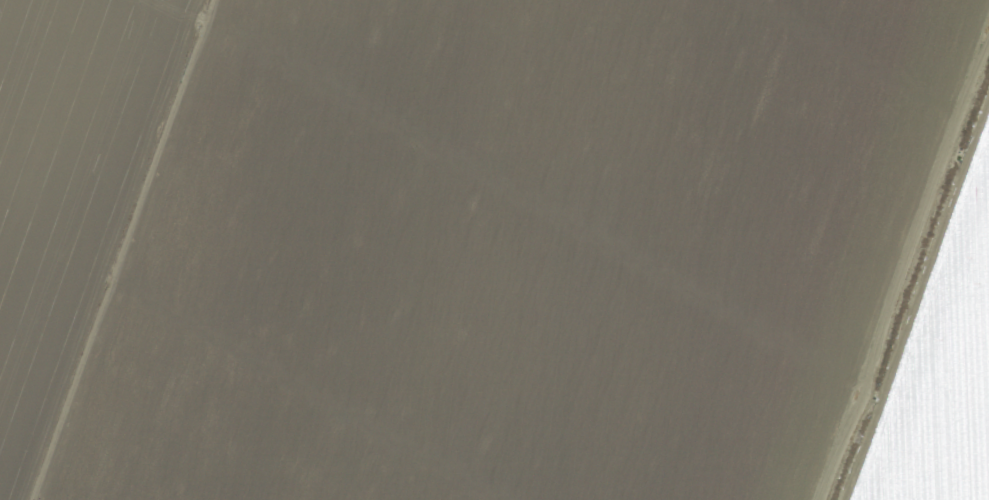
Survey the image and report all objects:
crop: (494, 250)

